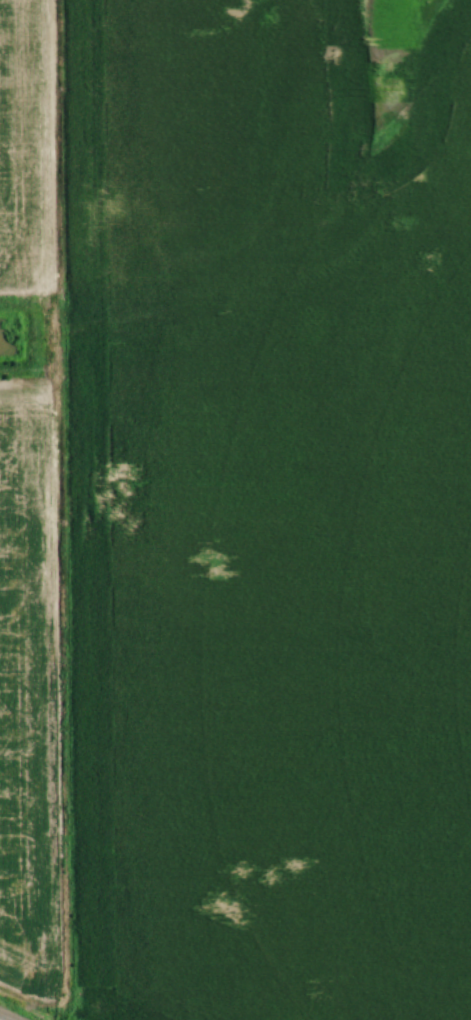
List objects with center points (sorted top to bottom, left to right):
crop: (147, 132)
crop: (17, 149)
crop: (18, 690)
railway: (2, 1018)

